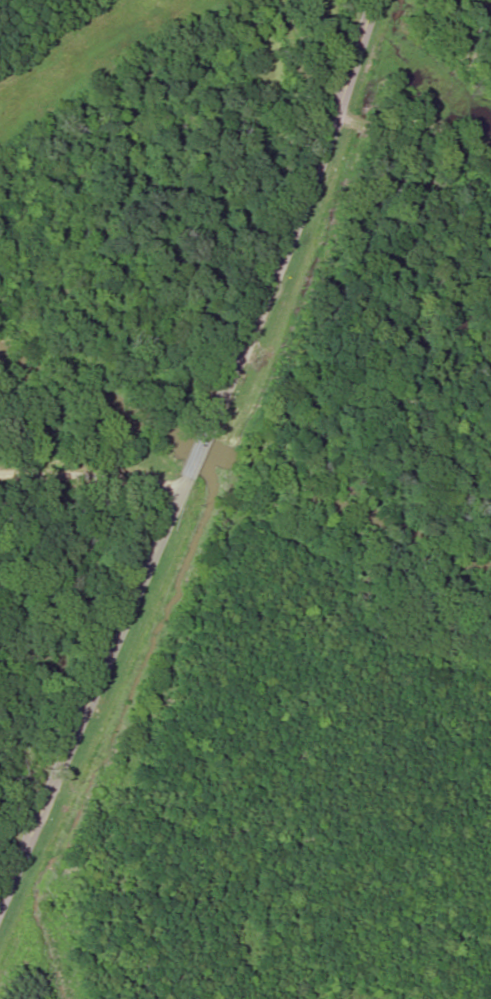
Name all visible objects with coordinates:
road: (186, 440)
road: (88, 484)

